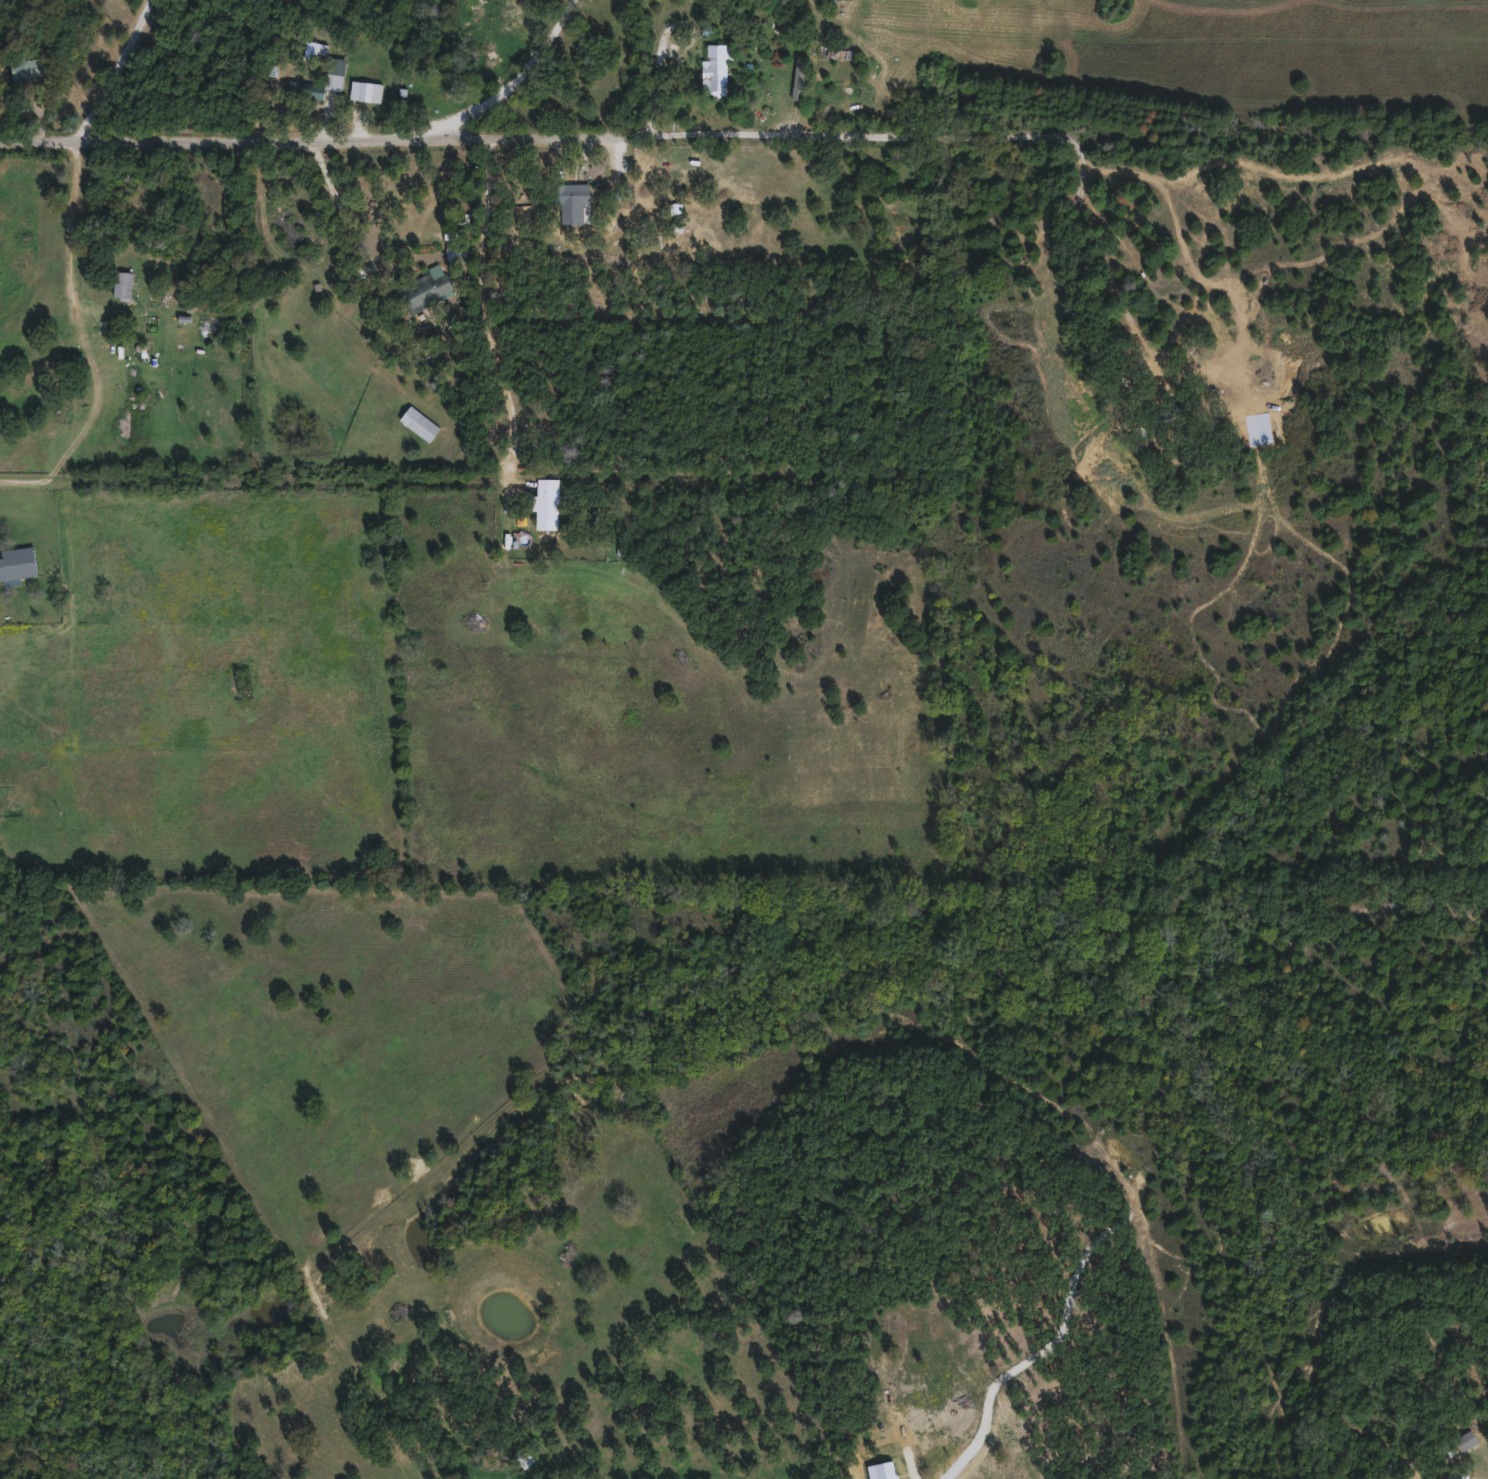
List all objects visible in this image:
building: (336, 65)
building: (28, 67)
building: (716, 68)
road: (116, 71)
road: (512, 83)
building: (306, 89)
building: (367, 90)
road: (536, 136)
building: (578, 202)
road: (340, 207)
building: (457, 254)
road: (1098, 263)
building: (123, 284)
building: (425, 290)
road: (485, 313)
road: (88, 343)
building: (15, 386)
building: (429, 430)
building: (547, 503)
building: (18, 562)
road: (1044, 1360)
building: (1468, 1438)
building: (524, 1456)

